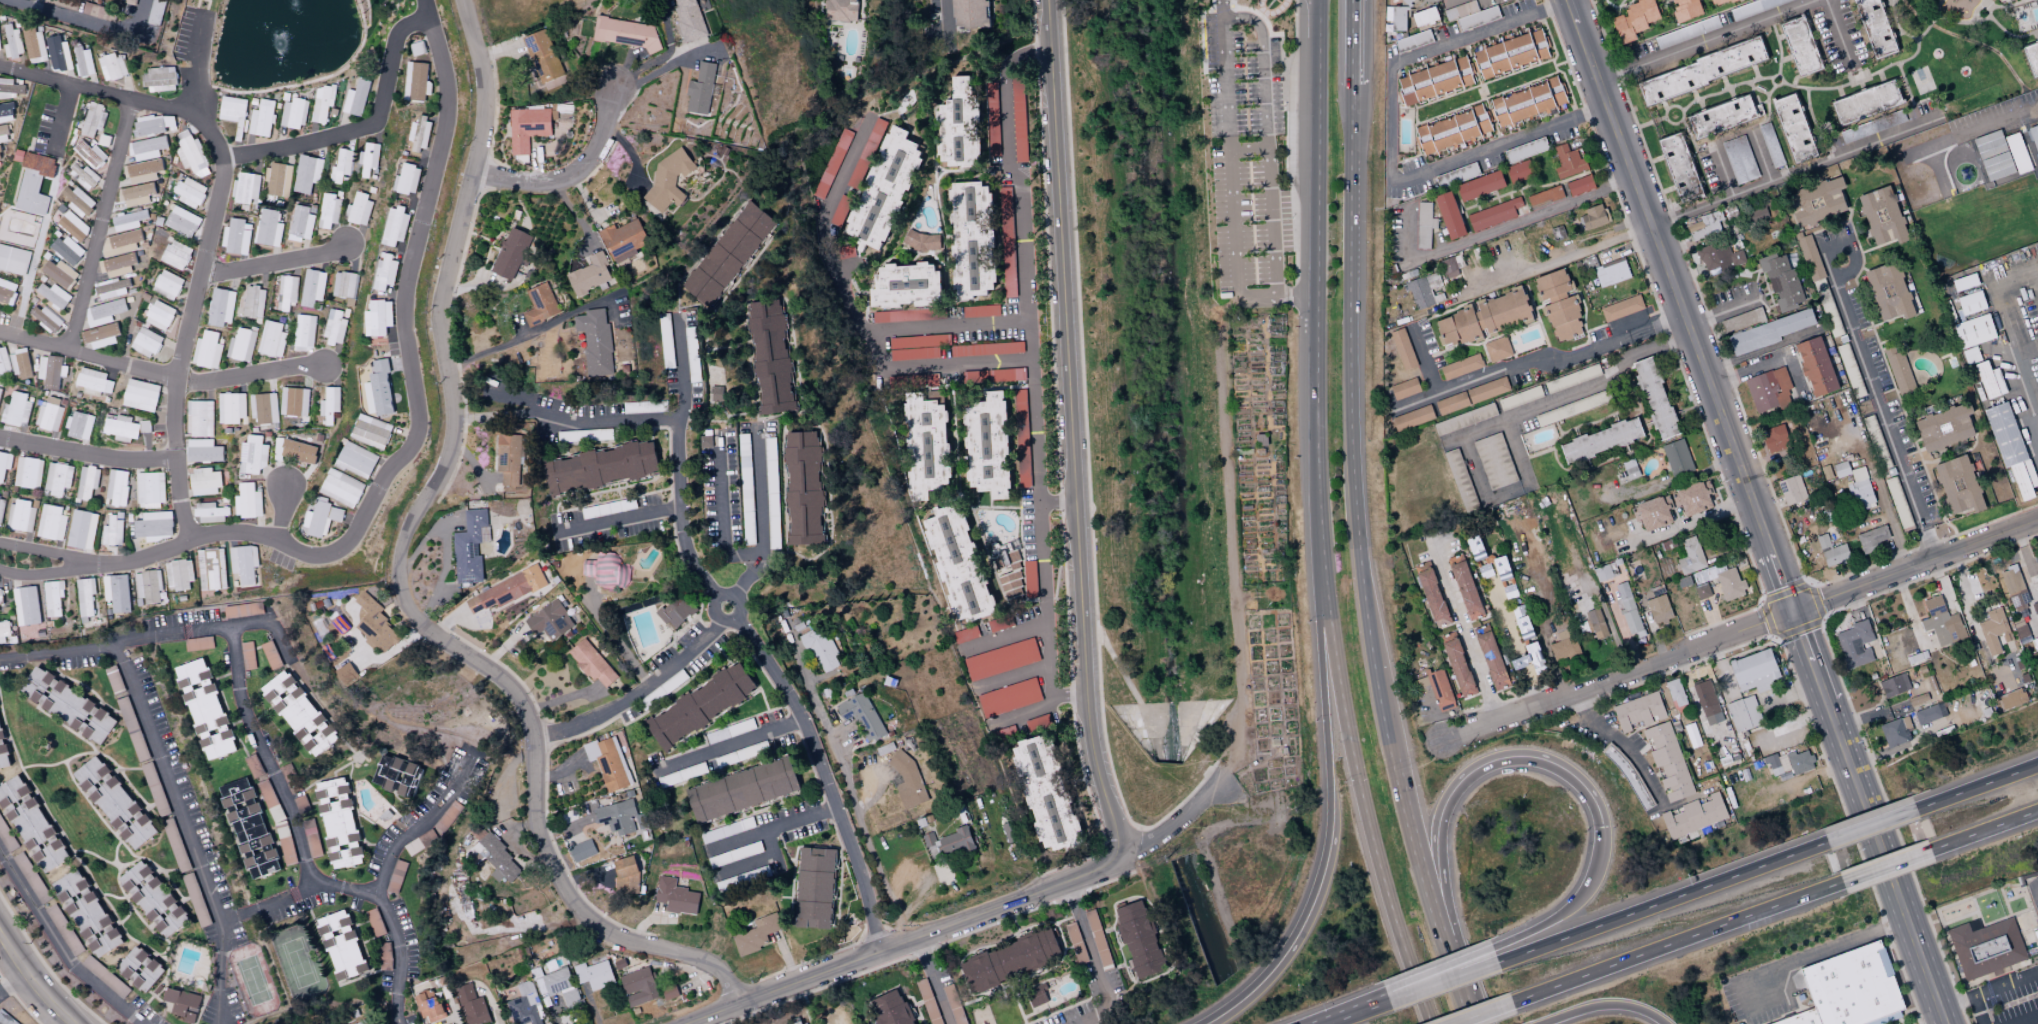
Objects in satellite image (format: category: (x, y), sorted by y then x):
building: (1719, 1)
building: (130, 2)
road: (1453, 3)
building: (1755, 7)
building: (1686, 9)
building: (841, 10)
building: (970, 14)
road: (137, 15)
road: (947, 15)
building: (1424, 17)
road: (87, 18)
building: (1634, 20)
building: (689, 22)
road: (1046, 24)
building: (1875, 27)
building: (625, 32)
building: (1686, 32)
road: (1839, 36)
road: (1710, 40)
building: (12, 42)
building: (34, 45)
road: (1353, 46)
building: (1799, 46)
building: (58, 53)
building: (1510, 53)
road: (1022, 57)
building: (2032, 57)
building: (543, 59)
building: (84, 61)
building: (111, 66)
road: (194, 66)
road: (664, 67)
road: (1261, 68)
building: (1702, 71)
building: (159, 78)
building: (1434, 80)
building: (415, 82)
building: (10, 88)
road: (280, 89)
building: (700, 89)
building: (356, 98)
building: (1527, 102)
building: (1866, 102)
building: (322, 103)
building: (6, 112)
building: (233, 113)
building: (294, 113)
building: (1721, 117)
road: (62, 118)
building: (262, 118)
building: (991, 119)
building: (1018, 119)
building: (93, 120)
road: (1995, 123)
building: (152, 124)
building: (958, 125)
building: (529, 127)
building: (1794, 127)
road: (360, 129)
building: (1452, 130)
building: (1859, 131)
building: (419, 132)
building: (3, 134)
building: (2035, 135)
road: (1393, 144)
building: (1988, 144)
road: (216, 145)
building: (1770, 145)
building: (147, 148)
road: (1854, 148)
building: (1525, 149)
building: (90, 153)
building: (865, 153)
building: (2018, 153)
road: (2031, 154)
building: (192, 156)
building: (367, 158)
building: (1739, 160)
parking lot: (1247, 161)
building: (1567, 162)
building: (831, 163)
building: (1678, 165)
building: (340, 166)
building: (1997, 166)
building: (142, 171)
road: (570, 172)
building: (1518, 172)
road: (1768, 172)
building: (306, 173)
building: (82, 175)
building: (277, 179)
building: (407, 179)
building: (668, 181)
building: (1720, 182)
building: (33, 183)
building: (1579, 185)
road: (1231, 186)
building: (1480, 186)
building: (884, 187)
building: (245, 188)
building: (189, 191)
building: (135, 194)
building: (1544, 196)
road: (1717, 199)
building: (77, 200)
park: (1964, 200)
building: (1817, 202)
road: (1269, 204)
building: (357, 209)
building: (328, 211)
building: (1493, 214)
building: (1449, 215)
building: (1882, 216)
building: (1594, 217)
building: (128, 220)
building: (181, 222)
building: (300, 223)
road: (824, 225)
building: (1424, 225)
road: (1495, 225)
building: (73, 226)
road: (100, 226)
building: (1705, 226)
building: (394, 227)
building: (267, 228)
building: (236, 237)
building: (623, 240)
building: (922, 240)
building: (121, 242)
building: (1006, 243)
building: (67, 249)
road: (1852, 252)
building: (510, 253)
building: (175, 254)
building: (728, 254)
building: (1719, 258)
building: (13, 259)
road: (273, 262)
road: (1552, 262)
building: (117, 265)
building: (1448, 268)
building: (1611, 272)
building: (60, 273)
building: (385, 273)
building: (590, 274)
building: (1817, 279)
building: (1782, 280)
building: (1964, 282)
building: (167, 284)
building: (344, 284)
building: (1552, 284)
building: (312, 287)
building: (905, 287)
building: (111, 288)
building: (7, 291)
building: (1425, 291)
building: (1888, 291)
building: (286, 292)
building: (53, 295)
building: (253, 302)
building: (1970, 303)
building: (540, 304)
building: (221, 307)
road: (1682, 307)
building: (1621, 308)
road: (1722, 309)
building: (104, 312)
building: (159, 315)
building: (909, 315)
building: (377, 317)
building: (45, 318)
building: (1482, 319)
building: (1564, 319)
building: (1743, 320)
road: (952, 326)
building: (334, 328)
road: (535, 329)
road: (2006, 329)
building: (1974, 331)
building: (303, 332)
building: (1768, 332)
building: (100, 335)
building: (271, 339)
building: (595, 341)
building: (145, 342)
building: (241, 345)
building: (916, 346)
road: (876, 349)
building: (986, 349)
building: (1403, 349)
building: (1497, 349)
building: (207, 350)
road: (1539, 355)
building: (1970, 355)
building: (770, 356)
road: (89, 358)
road: (1427, 358)
road: (1767, 359)
building: (3, 362)
building: (20, 364)
road: (955, 365)
building: (1461, 366)
building: (1816, 367)
building: (50, 370)
building: (1898, 370)
road: (248, 373)
building: (1014, 374)
building: (93, 380)
building: (1988, 380)
building: (907, 381)
road: (1034, 386)
building: (1551, 386)
building: (379, 389)
building: (1404, 389)
building: (1770, 390)
building: (140, 395)
building: (1471, 396)
building: (1655, 398)
building: (293, 401)
building: (329, 404)
road: (1879, 404)
building: (231, 407)
building: (263, 408)
building: (1570, 408)
building: (15, 410)
building: (48, 416)
building: (199, 418)
building: (1412, 418)
building: (1464, 419)
road: (568, 421)
road: (1495, 423)
building: (79, 425)
building: (1945, 427)
building: (125, 428)
building: (371, 431)
building: (1021, 438)
building: (1776, 439)
building: (1601, 440)
road: (2031, 441)
building: (925, 446)
building: (987, 446)
building: (2010, 448)
building: (202, 450)
building: (298, 450)
road: (89, 454)
road: (1071, 454)
building: (252, 455)
road: (407, 455)
building: (508, 458)
building: (1677, 458)
road: (178, 460)
building: (356, 460)
road: (680, 460)
building: (1494, 461)
building: (4, 463)
building: (601, 467)
building: (27, 472)
building: (1457, 472)
building: (57, 478)
building: (204, 481)
building: (86, 482)
building: (1856, 485)
building: (1958, 485)
building: (116, 486)
building: (341, 488)
building: (803, 488)
building: (150, 489)
building: (1791, 490)
building: (1695, 497)
building: (248, 501)
road: (1057, 502)
building: (1, 507)
road: (720, 511)
road: (279, 512)
building: (210, 513)
building: (1651, 513)
building: (19, 515)
road: (761, 517)
building: (322, 518)
road: (1317, 518)
road: (620, 519)
building: (51, 522)
road: (1687, 523)
building: (154, 525)
building: (82, 529)
building: (112, 531)
building: (1871, 539)
road: (1225, 544)
building: (469, 548)
road: (47, 550)
building: (1831, 552)
building: (1010, 556)
building: (1690, 556)
road: (1230, 558)
building: (244, 563)
building: (956, 563)
building: (1500, 564)
road: (1361, 565)
road: (1915, 567)
building: (210, 569)
building: (602, 569)
building: (1602, 573)
building: (178, 574)
road: (400, 577)
building: (1029, 579)
building: (1721, 580)
building: (148, 585)
building: (2013, 587)
building: (506, 590)
building: (1466, 590)
building: (1701, 591)
building: (116, 592)
building: (85, 596)
building: (52, 597)
building: (1433, 598)
road: (720, 599)
building: (25, 605)
building: (0, 608)
building: (1658, 608)
building: (243, 609)
building: (1627, 610)
building: (675, 611)
building: (549, 620)
road: (1505, 620)
building: (1595, 622)
building: (1941, 622)
building: (999, 623)
building: (341, 624)
building: (376, 624)
building: (1524, 628)
building: (4, 631)
building: (1994, 631)
building: (2020, 631)
road: (176, 632)
road: (1464, 633)
building: (964, 634)
road: (612, 636)
road: (1005, 636)
building: (1562, 638)
building: (2035, 643)
building: (1855, 644)
building: (820, 649)
building: (1916, 657)
building: (1000, 659)
building: (1529, 659)
road: (1098, 660)
building: (1492, 660)
road: (1321, 662)
road: (1522, 663)
building: (592, 664)
building: (1459, 668)
road: (803, 671)
building: (1754, 671)
building: (348, 673)
road: (1013, 676)
road: (1617, 679)
building: (1894, 685)
building: (1437, 688)
road: (1532, 688)
building: (1674, 691)
road: (636, 693)
building: (1008, 697)
building: (1918, 699)
building: (2009, 699)
building: (1707, 702)
building: (69, 705)
building: (700, 705)
road: (1037, 707)
building: (205, 709)
building: (1639, 711)
building: (300, 713)
building: (1929, 713)
building: (1743, 714)
building: (862, 715)
road: (255, 730)
building: (729, 731)
building: (1895, 731)
road: (1613, 738)
building: (137, 742)
road: (346, 742)
road: (731, 744)
building: (2, 754)
building: (609, 761)
building: (1668, 761)
building: (1789, 763)
building: (255, 769)
building: (287, 771)
road: (1466, 772)
building: (396, 775)
road: (825, 777)
road: (168, 778)
building: (907, 781)
road: (1976, 787)
building: (154, 789)
building: (742, 790)
building: (1044, 794)
building: (270, 799)
building: (115, 802)
building: (1694, 816)
building: (620, 817)
road: (859, 817)
road: (1868, 819)
road: (1180, 820)
building: (338, 823)
building: (31, 824)
road: (1870, 825)
traffic signals: (1601, 827)
building: (249, 828)
building: (308, 828)
road: (774, 828)
road: (1983, 829)
building: (726, 830)
building: (6, 835)
building: (173, 839)
building: (948, 842)
building: (286, 845)
building: (314, 848)
building: (582, 850)
building: (731, 855)
building: (495, 858)
road: (759, 862)
road: (1885, 865)
building: (627, 875)
building: (31, 877)
building: (742, 879)
road: (377, 886)
building: (814, 888)
road: (1973, 895)
building: (675, 896)
building: (153, 899)
building: (195, 899)
road: (2034, 899)
road: (2003, 900)
road: (1661, 901)
road: (1569, 906)
road: (1976, 911)
road: (2015, 912)
building: (87, 913)
road: (1958, 917)
road: (1933, 920)
road: (1302, 923)
road: (2032, 926)
building: (64, 929)
road: (1932, 931)
building: (756, 934)
building: (1097, 938)
road: (1889, 938)
building: (1139, 940)
road: (1676, 940)
road: (906, 941)
building: (1075, 943)
building: (341, 945)
road: (1948, 945)
road: (60, 946)
building: (1986, 947)
road: (1813, 952)
road: (1092, 953)
road: (47, 956)
building: (384, 956)
road: (397, 956)
building: (1009, 960)
building: (140, 969)
road: (1437, 971)
building: (593, 974)
road: (1990, 975)
building: (105, 976)
road: (13, 977)
road: (935, 980)
road: (38, 981)
road: (1441, 981)
road: (2005, 983)
building: (638, 986)
building: (1851, 989)
building: (669, 991)
building: (1036, 995)
building: (928, 1001)
road: (1955, 1001)
building: (182, 1003)
building: (953, 1004)
road: (1603, 1004)
building: (470, 1005)
building: (524, 1005)
building: (896, 1007)
road: (1978, 1009)
road: (1908, 1010)
road: (1355, 1012)
road: (1480, 1013)
road: (1746, 1014)
road: (1894, 1017)
road: (1885, 1018)
road: (2024, 1018)
road: (1087, 1021)
road: (1899, 1021)
building: (362, 1022)
building: (803, 1023)

